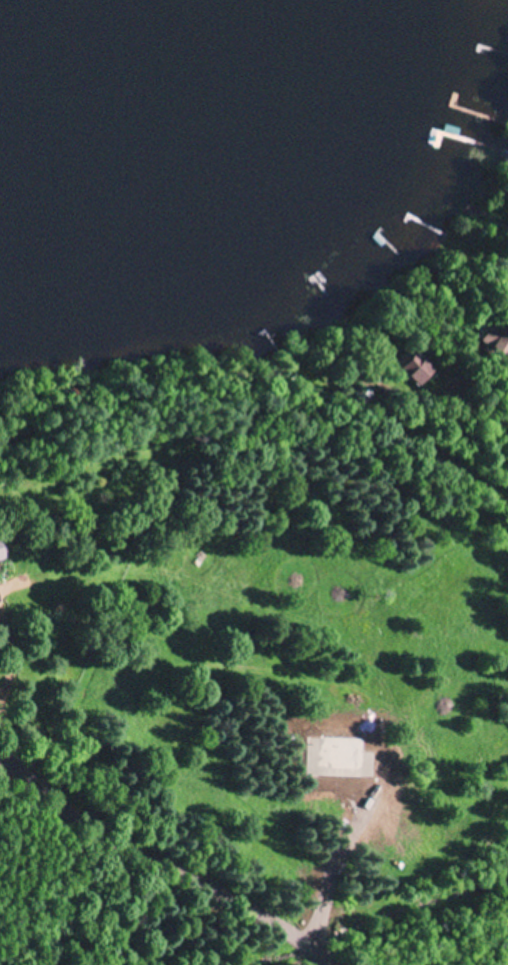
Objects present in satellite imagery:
building: (493, 343)
building: (414, 372)
road: (501, 387)
building: (507, 411)
road: (449, 508)
building: (3, 553)
road: (173, 847)

